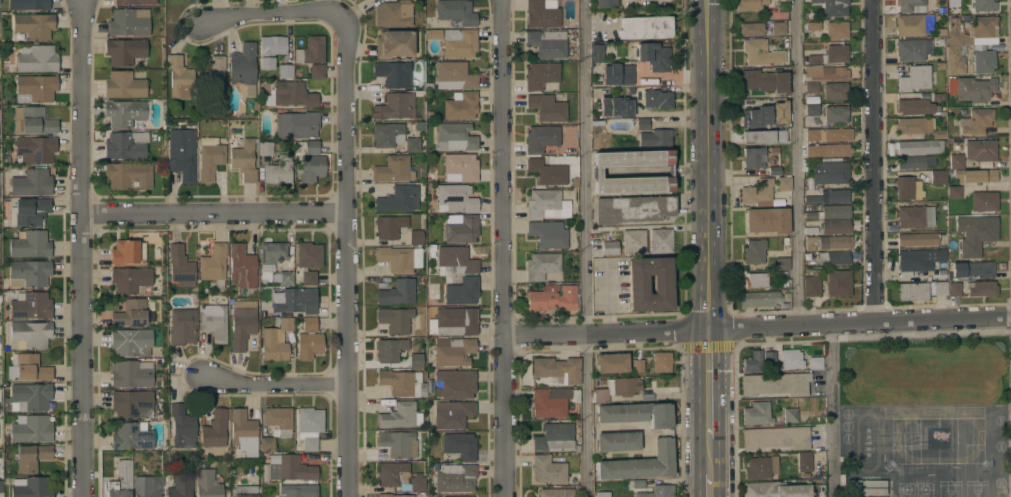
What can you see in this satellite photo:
building: (953, 0)
building: (135, 2)
building: (607, 3)
building: (750, 4)
building: (28, 5)
building: (911, 5)
building: (983, 5)
building: (833, 7)
road: (269, 12)
building: (394, 13)
building: (454, 13)
building: (542, 13)
building: (129, 22)
building: (914, 24)
building: (33, 26)
building: (813, 26)
building: (645, 27)
building: (752, 28)
building: (779, 28)
building: (837, 29)
building: (971, 30)
building: (432, 34)
building: (940, 41)
building: (459, 42)
building: (394, 43)
building: (547, 43)
building: (913, 49)
building: (271, 50)
building: (311, 50)
building: (124, 51)
building: (597, 52)
building: (760, 53)
building: (837, 53)
building: (653, 56)
building: (36, 58)
building: (813, 59)
building: (983, 59)
building: (957, 60)
building: (243, 65)
building: (285, 70)
building: (317, 71)
building: (392, 73)
building: (825, 73)
building: (617, 74)
building: (454, 75)
building: (541, 75)
building: (212, 76)
building: (180, 78)
building: (915, 78)
building: (765, 81)
building: (124, 85)
building: (811, 87)
building: (35, 88)
building: (973, 89)
building: (631, 90)
building: (834, 90)
building: (293, 94)
building: (939, 96)
building: (657, 98)
building: (460, 105)
building: (394, 106)
building: (916, 106)
building: (547, 107)
building: (619, 107)
building: (812, 110)
building: (126, 113)
building: (835, 113)
building: (603, 115)
building: (766, 115)
building: (976, 120)
building: (36, 121)
building: (642, 124)
building: (296, 125)
building: (918, 127)
building: (387, 134)
building: (812, 134)
building: (836, 134)
building: (455, 136)
building: (765, 136)
building: (655, 137)
building: (541, 138)
building: (412, 144)
building: (125, 145)
building: (919, 146)
building: (311, 147)
building: (265, 148)
building: (35, 149)
building: (774, 150)
building: (827, 150)
building: (980, 150)
building: (754, 157)
building: (210, 158)
building: (243, 158)
building: (182, 159)
road: (872, 160)
building: (956, 161)
road: (795, 162)
building: (914, 162)
road: (706, 164)
building: (460, 167)
building: (311, 168)
building: (393, 169)
building: (279, 170)
building: (775, 170)
building: (597, 171)
building: (830, 171)
building: (547, 172)
building: (129, 175)
building: (976, 175)
building: (938, 176)
building: (31, 182)
building: (784, 183)
building: (908, 188)
building: (758, 192)
building: (954, 192)
building: (838, 195)
building: (455, 198)
building: (398, 199)
building: (812, 199)
building: (984, 201)
building: (546, 204)
building: (632, 209)
building: (29, 211)
road: (212, 211)
building: (829, 212)
building: (915, 216)
building: (767, 220)
building: (389, 226)
building: (835, 226)
building: (461, 227)
building: (810, 230)
building: (548, 234)
building: (975, 234)
building: (415, 237)
building: (917, 238)
building: (661, 240)
building: (633, 241)
building: (828, 242)
building: (30, 244)
building: (609, 247)
road: (79, 248)
road: (502, 248)
road: (584, 248)
building: (124, 251)
building: (754, 251)
building: (272, 254)
road: (345, 254)
building: (834, 257)
building: (399, 258)
building: (916, 259)
building: (308, 261)
building: (455, 261)
building: (782, 263)
building: (214, 264)
building: (542, 265)
building: (180, 266)
building: (243, 269)
building: (973, 269)
building: (29, 272)
building: (779, 275)
building: (949, 275)
building: (286, 278)
building: (132, 280)
building: (756, 280)
building: (837, 282)
building: (637, 284)
building: (812, 284)
building: (940, 288)
building: (972, 288)
building: (460, 289)
building: (913, 290)
building: (397, 292)
building: (553, 298)
building: (761, 299)
building: (295, 300)
building: (30, 305)
building: (131, 313)
building: (395, 319)
building: (213, 321)
building: (456, 321)
building: (242, 323)
building: (309, 323)
building: (182, 325)
road: (757, 326)
building: (30, 334)
building: (276, 340)
building: (132, 342)
building: (309, 345)
building: (391, 350)
building: (453, 351)
building: (769, 356)
building: (791, 359)
building: (416, 360)
building: (662, 361)
building: (612, 362)
building: (753, 362)
building: (815, 363)
building: (638, 365)
building: (27, 367)
building: (557, 369)
road: (709, 371)
building: (131, 373)
building: (602, 381)
building: (400, 382)
building: (455, 383)
road: (272, 384)
building: (775, 384)
building: (618, 389)
building: (30, 396)
building: (550, 402)
building: (132, 403)
road: (832, 410)
building: (452, 413)
building: (757, 413)
building: (398, 415)
building: (790, 415)
building: (279, 420)
road: (709, 425)
building: (181, 426)
building: (309, 426)
building: (31, 428)
building: (243, 431)
building: (214, 432)
building: (132, 435)
building: (554, 437)
building: (776, 437)
building: (618, 441)
building: (398, 443)
building: (267, 444)
building: (460, 445)
building: (662, 448)
building: (32, 456)
road: (708, 456)
building: (804, 462)
building: (761, 466)
building: (291, 468)
building: (548, 469)
building: (0, 471)
building: (805, 475)
building: (399, 476)
building: (121, 479)
building: (456, 479)
building: (635, 483)
building: (208, 484)
building: (0, 486)
building: (147, 486)
building: (181, 486)
road: (708, 486)
building: (31, 487)
building: (866, 487)
building: (298, 490)
building: (775, 490)
building: (245, 491)
building: (658, 491)
building: (556, 492)
building: (602, 494)
building: (395, 495)
building: (457, 496)

